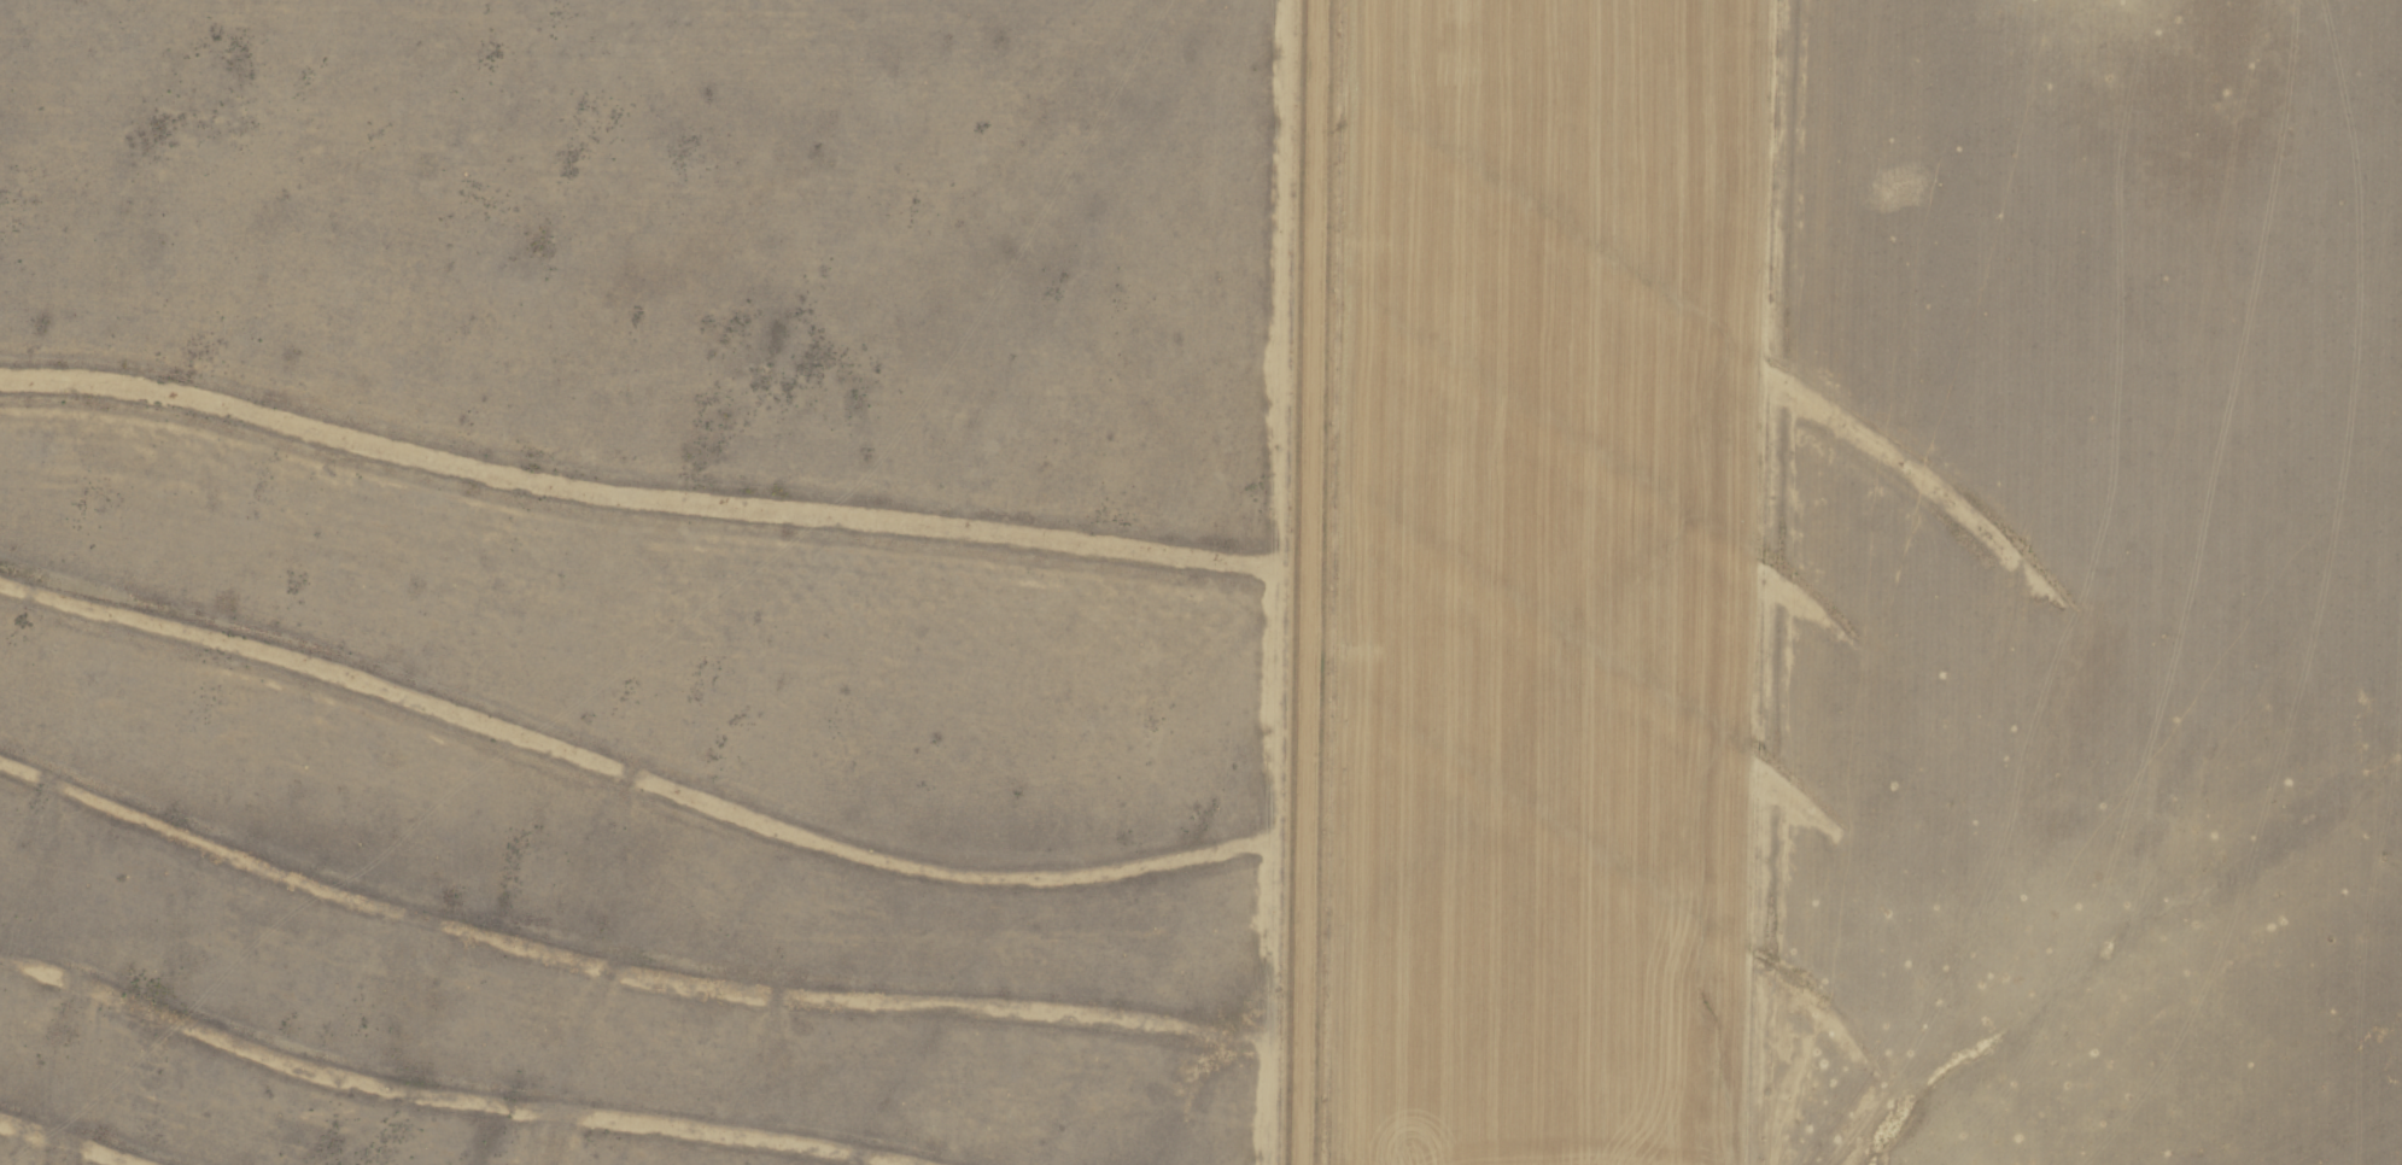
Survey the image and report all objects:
road: (1310, 582)

